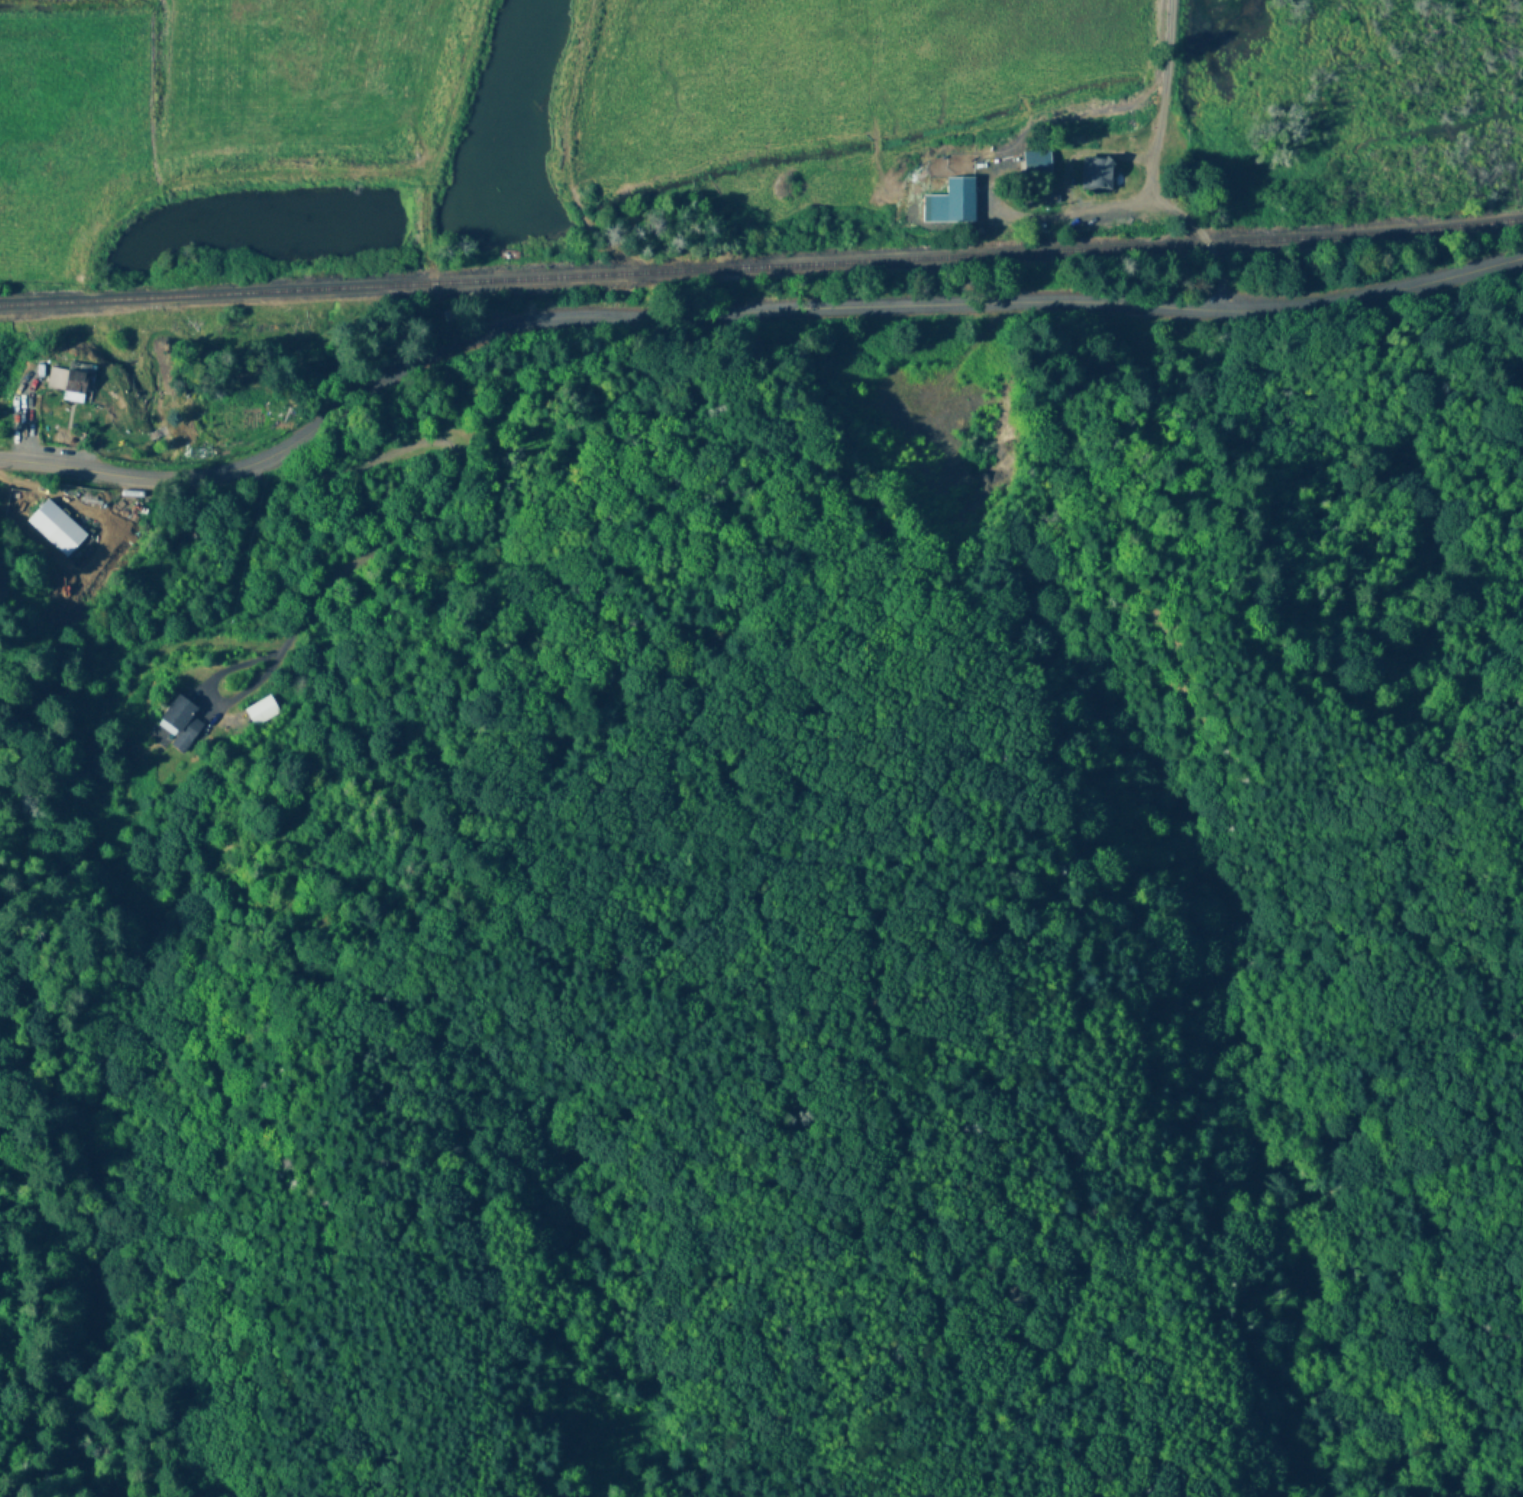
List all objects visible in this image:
river: (508, 111)
building: (1037, 163)
road: (1152, 165)
building: (1096, 177)
building: (954, 203)
road: (1067, 212)
railway: (761, 266)
road: (1017, 300)
building: (73, 381)
road: (268, 459)
building: (56, 528)
building: (262, 712)
building: (181, 724)

